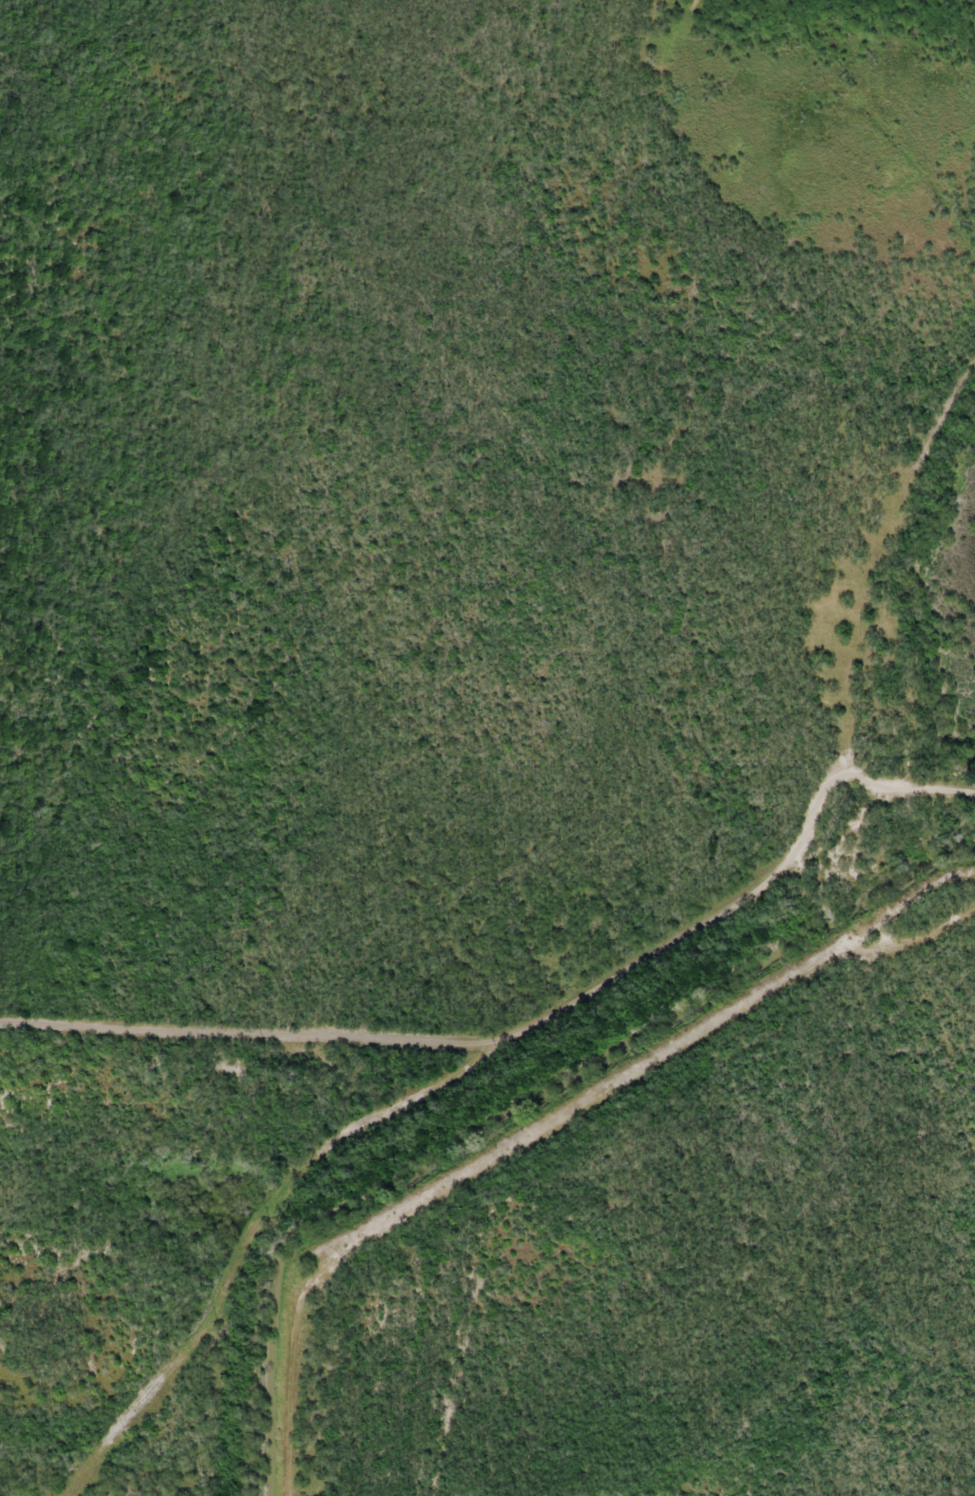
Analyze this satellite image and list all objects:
road: (866, 612)
road: (493, 1047)
road: (570, 1117)
road: (247, 1297)

